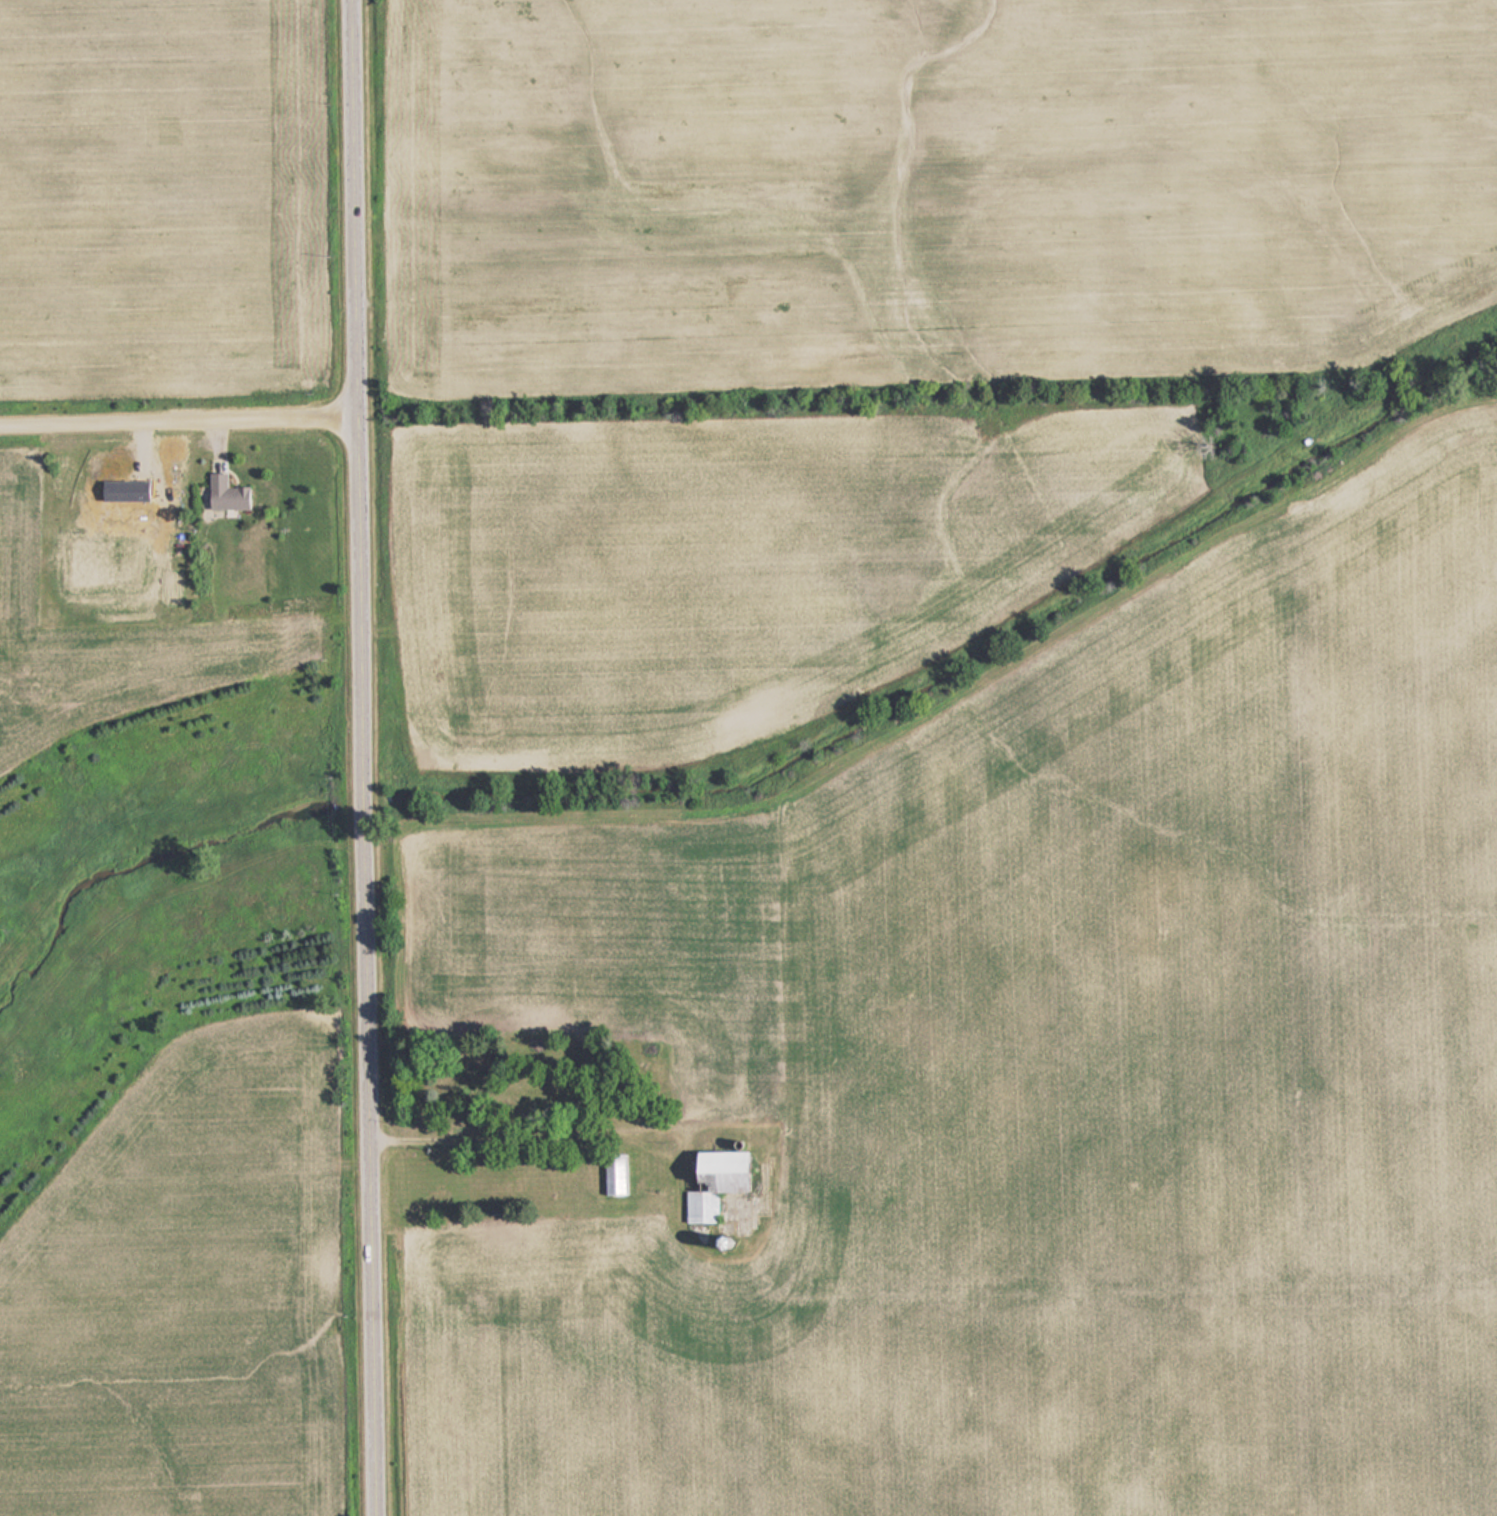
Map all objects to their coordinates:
road: (179, 409)
building: (223, 493)
road: (361, 758)
building: (613, 1175)
building: (711, 1182)

